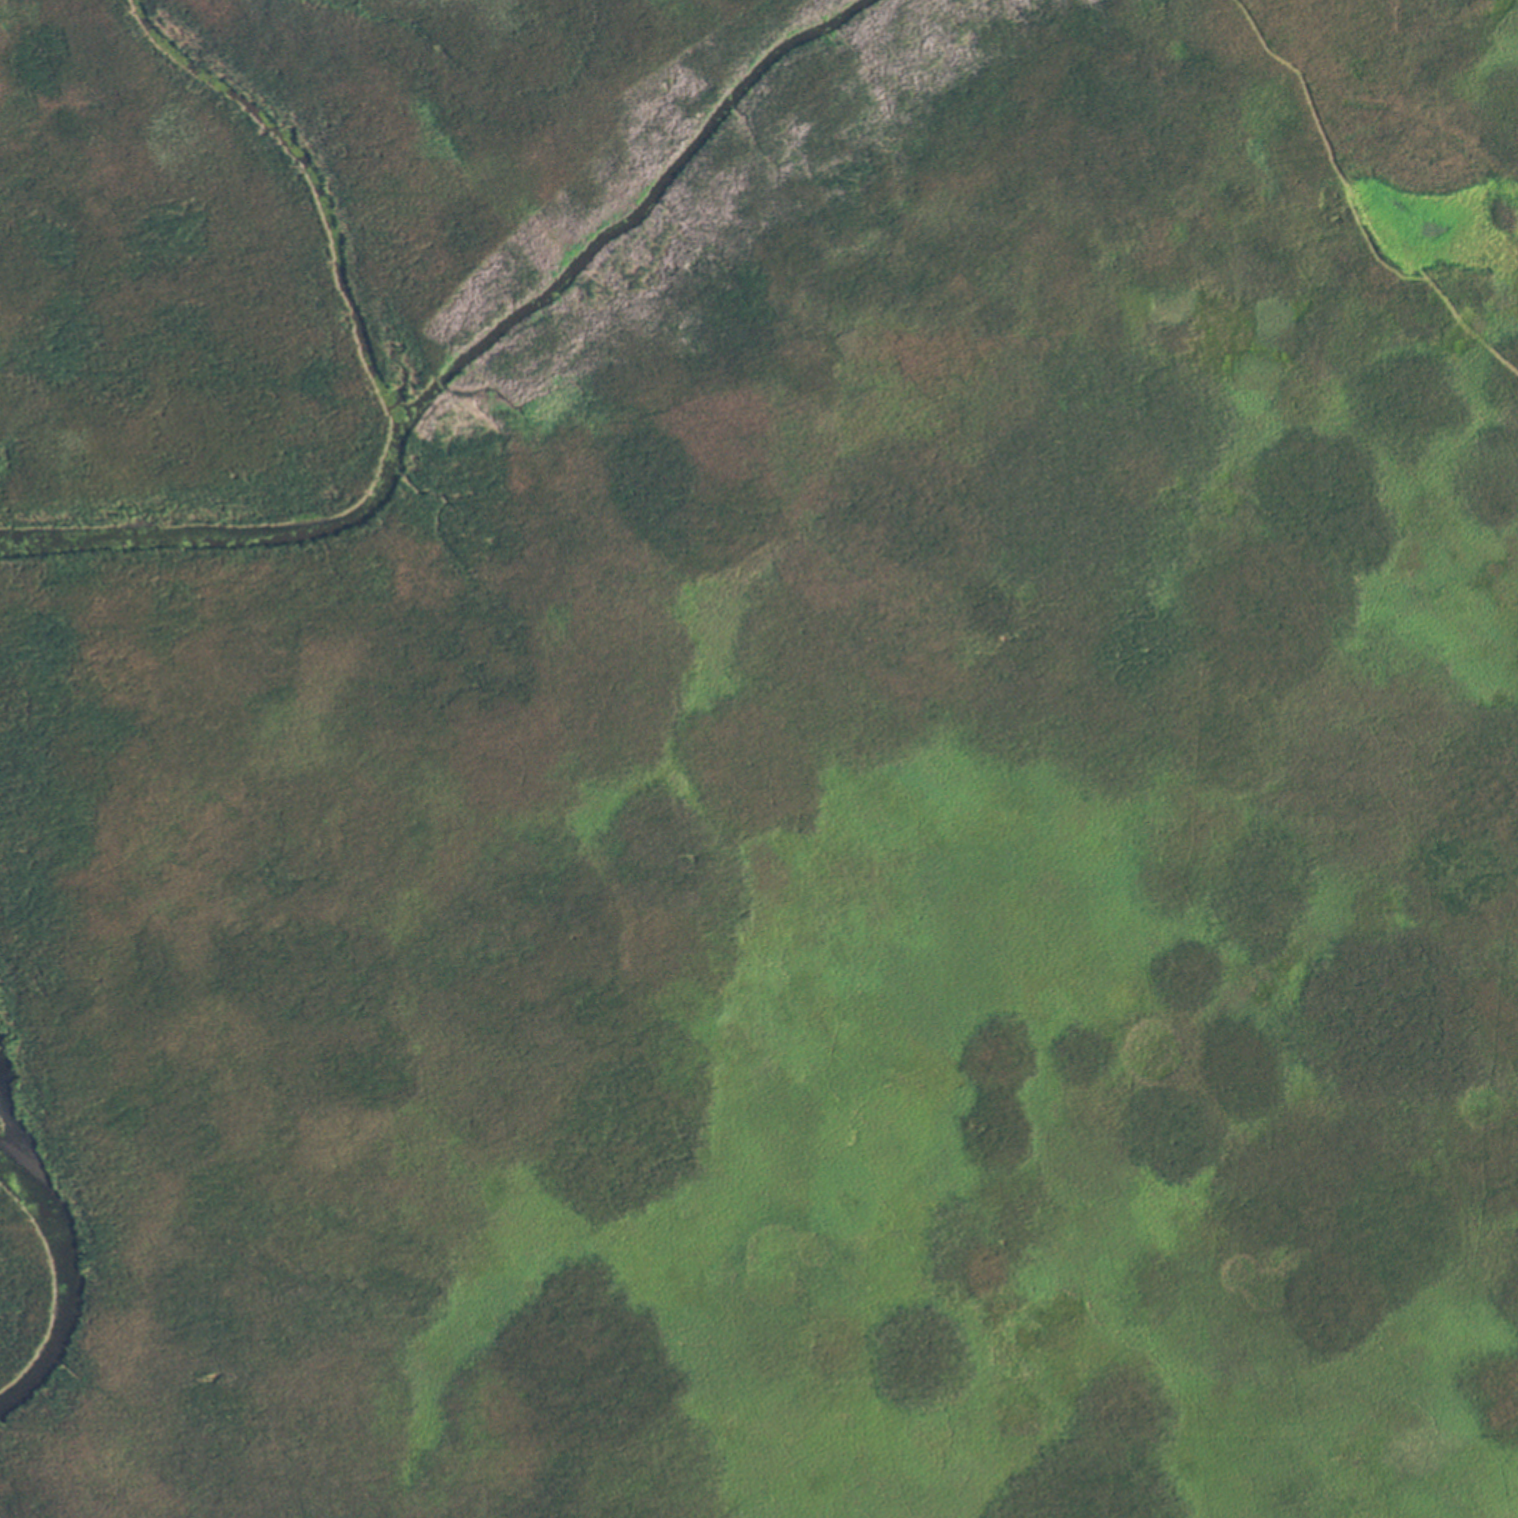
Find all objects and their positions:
river: (459, 358)
river: (59, 1284)

